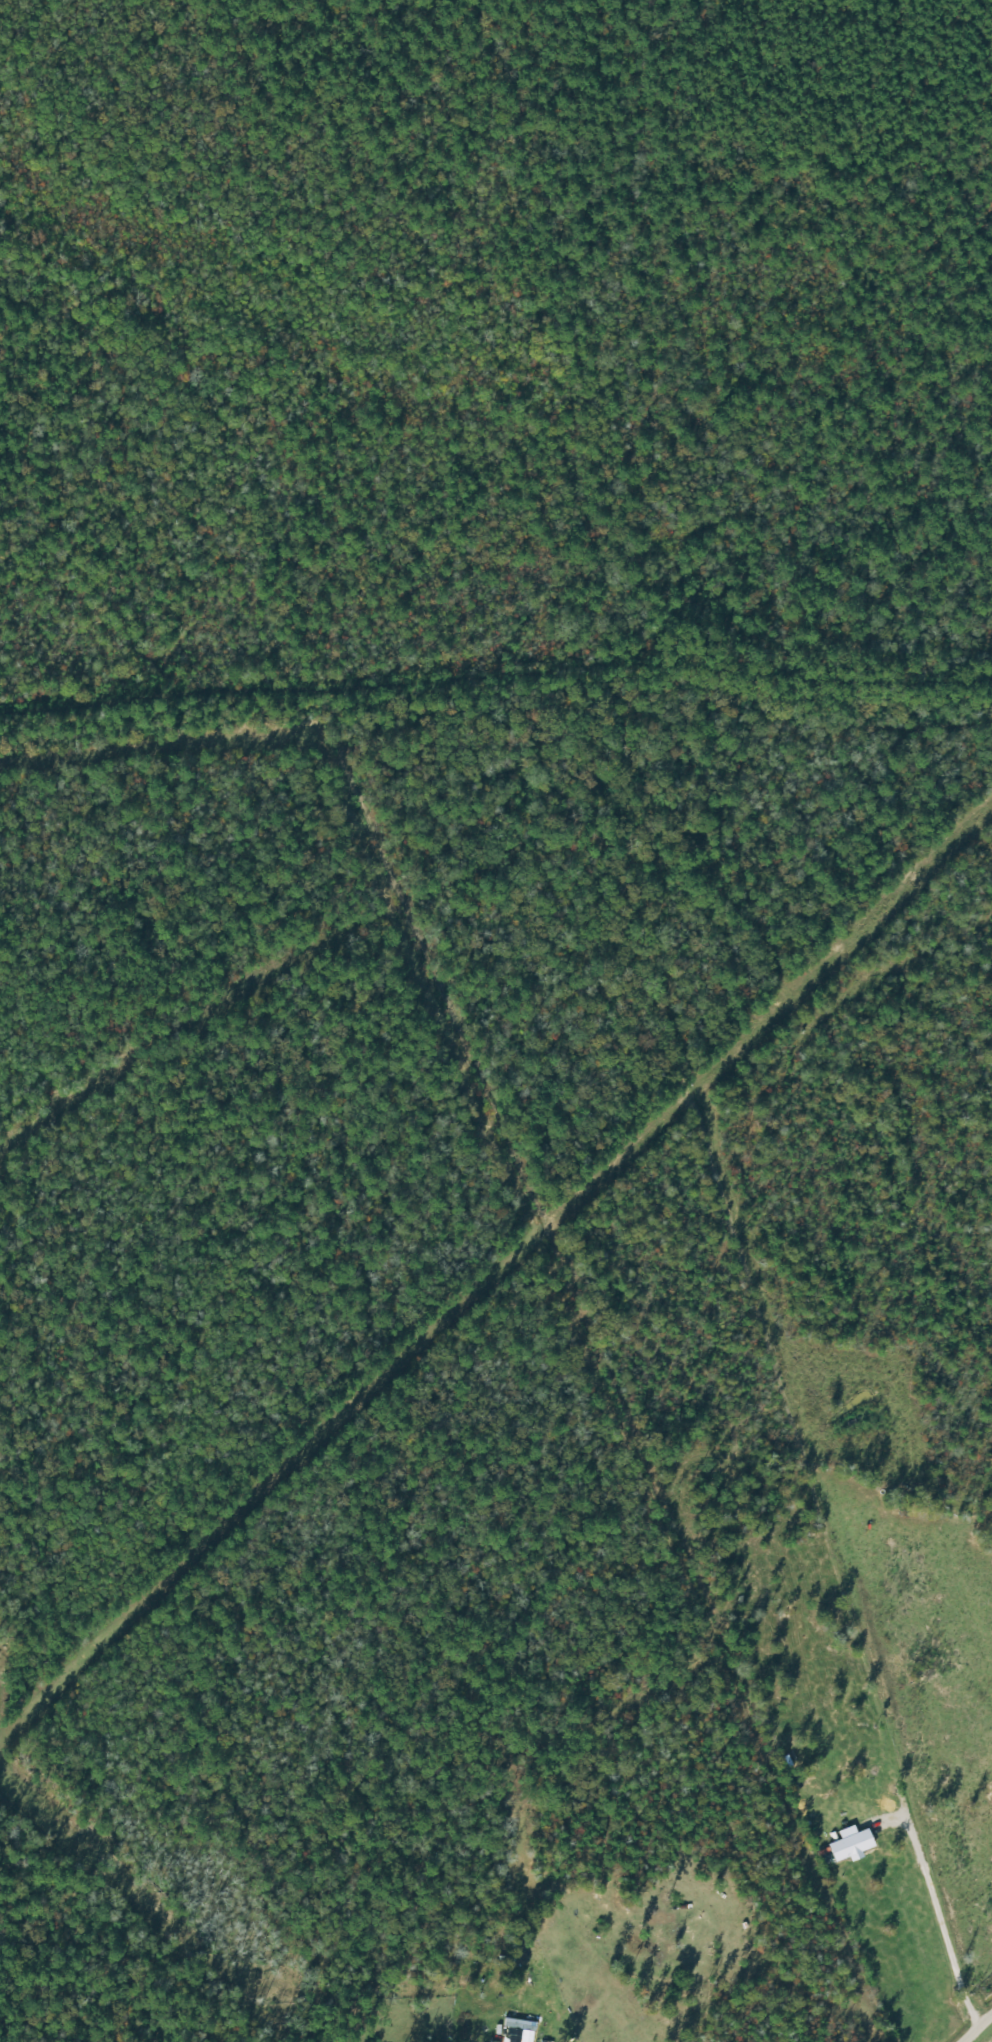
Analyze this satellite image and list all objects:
building: (846, 1844)
road: (939, 1917)
road: (977, 2028)

